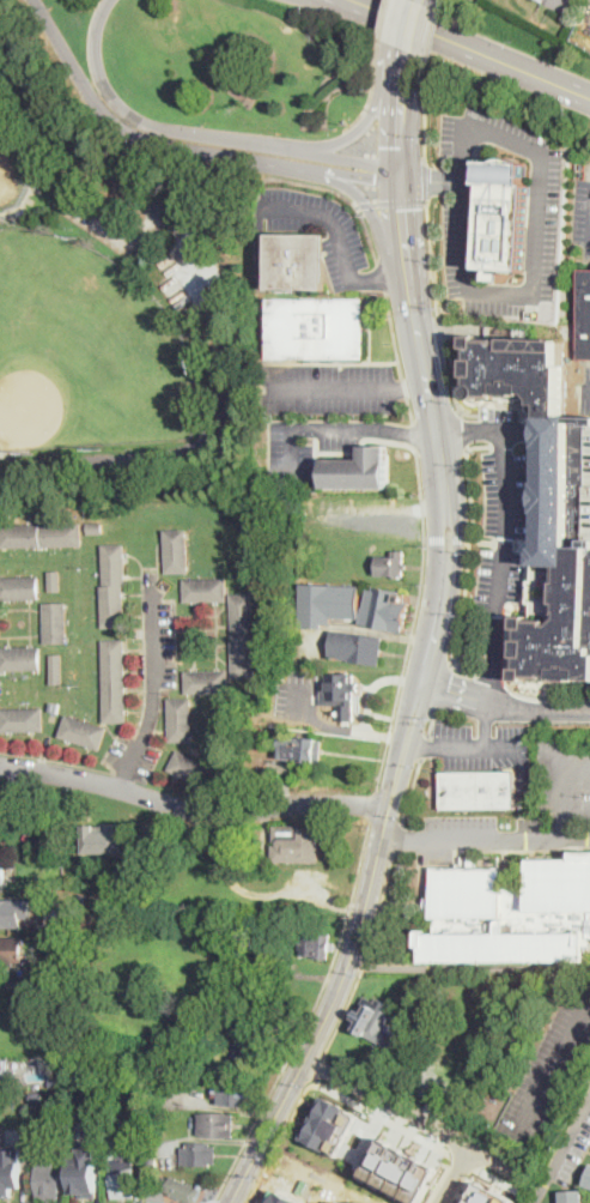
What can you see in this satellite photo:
building: (546, 0)
parking lot: (582, 0)
road: (558, 2)
road: (413, 24)
road: (382, 32)
road: (433, 42)
road: (473, 48)
road: (406, 64)
road: (367, 103)
road: (142, 122)
road: (425, 122)
road: (365, 125)
road: (462, 125)
road: (354, 132)
road: (148, 140)
road: (373, 143)
traffic signals: (401, 145)
road: (399, 157)
road: (341, 161)
road: (376, 169)
park: (10, 171)
road: (365, 177)
traffic signals: (375, 180)
road: (426, 180)
road: (431, 180)
traffic signals: (431, 180)
road: (342, 193)
road: (377, 194)
road: (401, 201)
road: (367, 204)
parking lot: (582, 206)
traffic signals: (402, 210)
road: (372, 216)
building: (504, 217)
road: (333, 220)
parking lot: (545, 241)
parking lot: (346, 243)
road: (432, 259)
building: (297, 261)
road: (379, 276)
road: (382, 276)
road: (217, 302)
park: (118, 307)
building: (583, 314)
building: (316, 328)
road: (443, 328)
road: (393, 334)
park: (87, 349)
road: (410, 385)
road: (452, 385)
road: (332, 386)
road: (405, 387)
parking lot: (329, 388)
road: (589, 389)
parking lot: (585, 392)
road: (409, 410)
parking lot: (504, 416)
road: (306, 427)
road: (461, 429)
road: (402, 431)
road: (512, 433)
road: (413, 435)
road: (436, 445)
parking lot: (291, 446)
road: (416, 466)
building: (357, 470)
building: (548, 507)
road: (379, 509)
parking lot: (363, 518)
building: (589, 521)
parking lot: (589, 521)
parking lot: (504, 527)
building: (96, 528)
building: (249, 532)
building: (41, 536)
road: (446, 538)
building: (177, 551)
road: (468, 555)
building: (391, 564)
road: (500, 567)
building: (54, 581)
building: (114, 586)
building: (19, 587)
building: (268, 587)
building: (205, 590)
building: (328, 604)
building: (385, 610)
building: (55, 623)
building: (243, 635)
building: (355, 647)
building: (20, 658)
road: (403, 664)
building: (56, 669)
building: (114, 681)
building: (206, 682)
road: (444, 687)
road: (152, 691)
parking lot: (297, 691)
building: (342, 694)
road: (504, 703)
building: (54, 707)
building: (22, 720)
building: (181, 720)
road: (431, 724)
road: (486, 724)
road: (339, 726)
building: (217, 729)
building: (83, 732)
building: (267, 742)
road: (424, 746)
road: (420, 748)
building: (302, 749)
road: (478, 749)
parking lot: (485, 749)
building: (193, 768)
parking lot: (562, 781)
building: (478, 790)
road: (410, 791)
road: (562, 796)
road: (372, 803)
building: (0, 808)
road: (193, 809)
building: (0, 834)
parking lot: (474, 834)
building: (102, 839)
road: (396, 840)
road: (401, 840)
road: (505, 840)
building: (297, 844)
building: (267, 850)
building: (59, 862)
building: (1, 872)
building: (223, 905)
building: (14, 911)
building: (510, 914)
building: (316, 945)
building: (11, 950)
road: (364, 960)
building: (57, 961)
road: (468, 969)
road: (34, 985)
road: (299, 987)
road: (328, 1012)
building: (452, 1012)
road: (308, 1016)
building: (376, 1023)
building: (247, 1052)
road: (556, 1066)
road: (320, 1068)
parking lot: (551, 1068)
building: (10, 1069)
building: (62, 1075)
building: (74, 1076)
building: (56, 1082)
building: (151, 1090)
building: (233, 1093)
building: (37, 1096)
road: (379, 1114)
road: (414, 1116)
building: (215, 1125)
building: (329, 1125)
building: (135, 1134)
road: (279, 1137)
road: (562, 1150)
building: (200, 1154)
building: (10, 1169)
building: (121, 1171)
building: (401, 1171)
road: (456, 1174)
building: (85, 1177)
building: (47, 1179)
building: (588, 1180)
building: (181, 1189)
building: (489, 1195)
building: (572, 1196)
road: (213, 1202)

